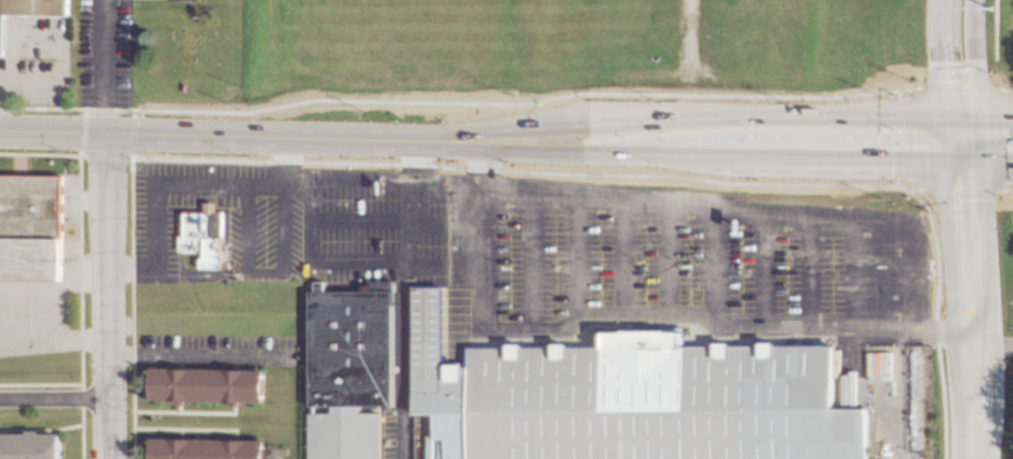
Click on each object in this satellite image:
building: (183, 0)
road: (942, 3)
building: (29, 11)
power tower: (992, 14)
crop: (997, 43)
road: (971, 57)
road: (941, 60)
road: (104, 66)
road: (887, 115)
traffic signals: (942, 115)
road: (957, 115)
traffic signals: (973, 115)
road: (993, 115)
road: (620, 123)
road: (942, 126)
road: (961, 129)
road: (974, 130)
road: (772, 134)
road: (204, 136)
traffic signals: (943, 137)
road: (993, 142)
road: (474, 146)
traffic signals: (975, 146)
road: (955, 150)
road: (943, 151)
road: (608, 153)
road: (975, 156)
road: (286, 158)
road: (409, 161)
road: (809, 161)
traffic signals: (943, 166)
road: (959, 166)
road: (994, 166)
road: (478, 167)
traffic signals: (975, 167)
road: (287, 184)
road: (155, 187)
road: (479, 206)
road: (348, 220)
road: (443, 226)
building: (30, 228)
parking lot: (248, 236)
building: (202, 240)
road: (248, 245)
road: (947, 253)
road: (977, 253)
parking lot: (616, 256)
road: (526, 259)
road: (572, 261)
road: (616, 263)
road: (662, 265)
road: (712, 266)
road: (442, 268)
road: (759, 268)
road: (806, 270)
road: (853, 271)
road: (106, 296)
road: (402, 320)
road: (936, 331)
road: (990, 343)
road: (200, 355)
building: (350, 371)
building: (207, 386)
road: (53, 398)
building: (638, 398)
road: (967, 398)
parking lot: (393, 439)
building: (29, 446)
building: (207, 449)

